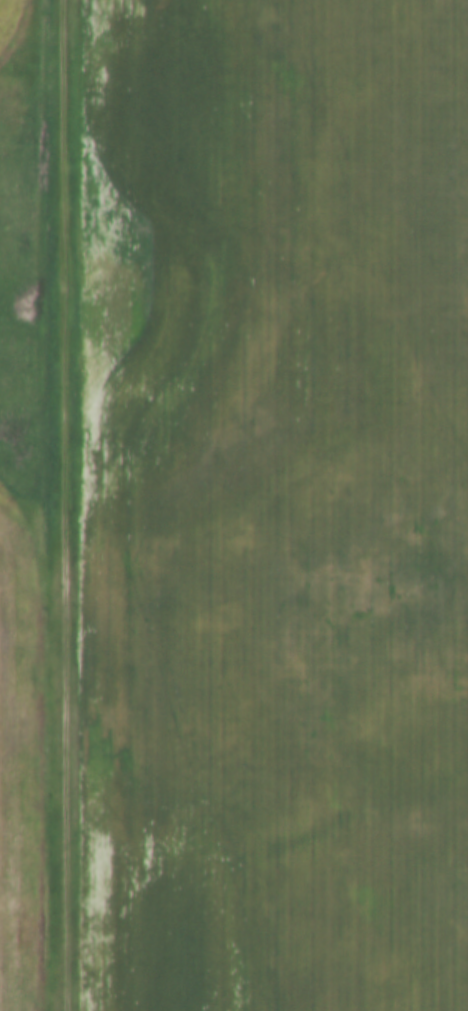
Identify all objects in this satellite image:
road: (60, 505)

